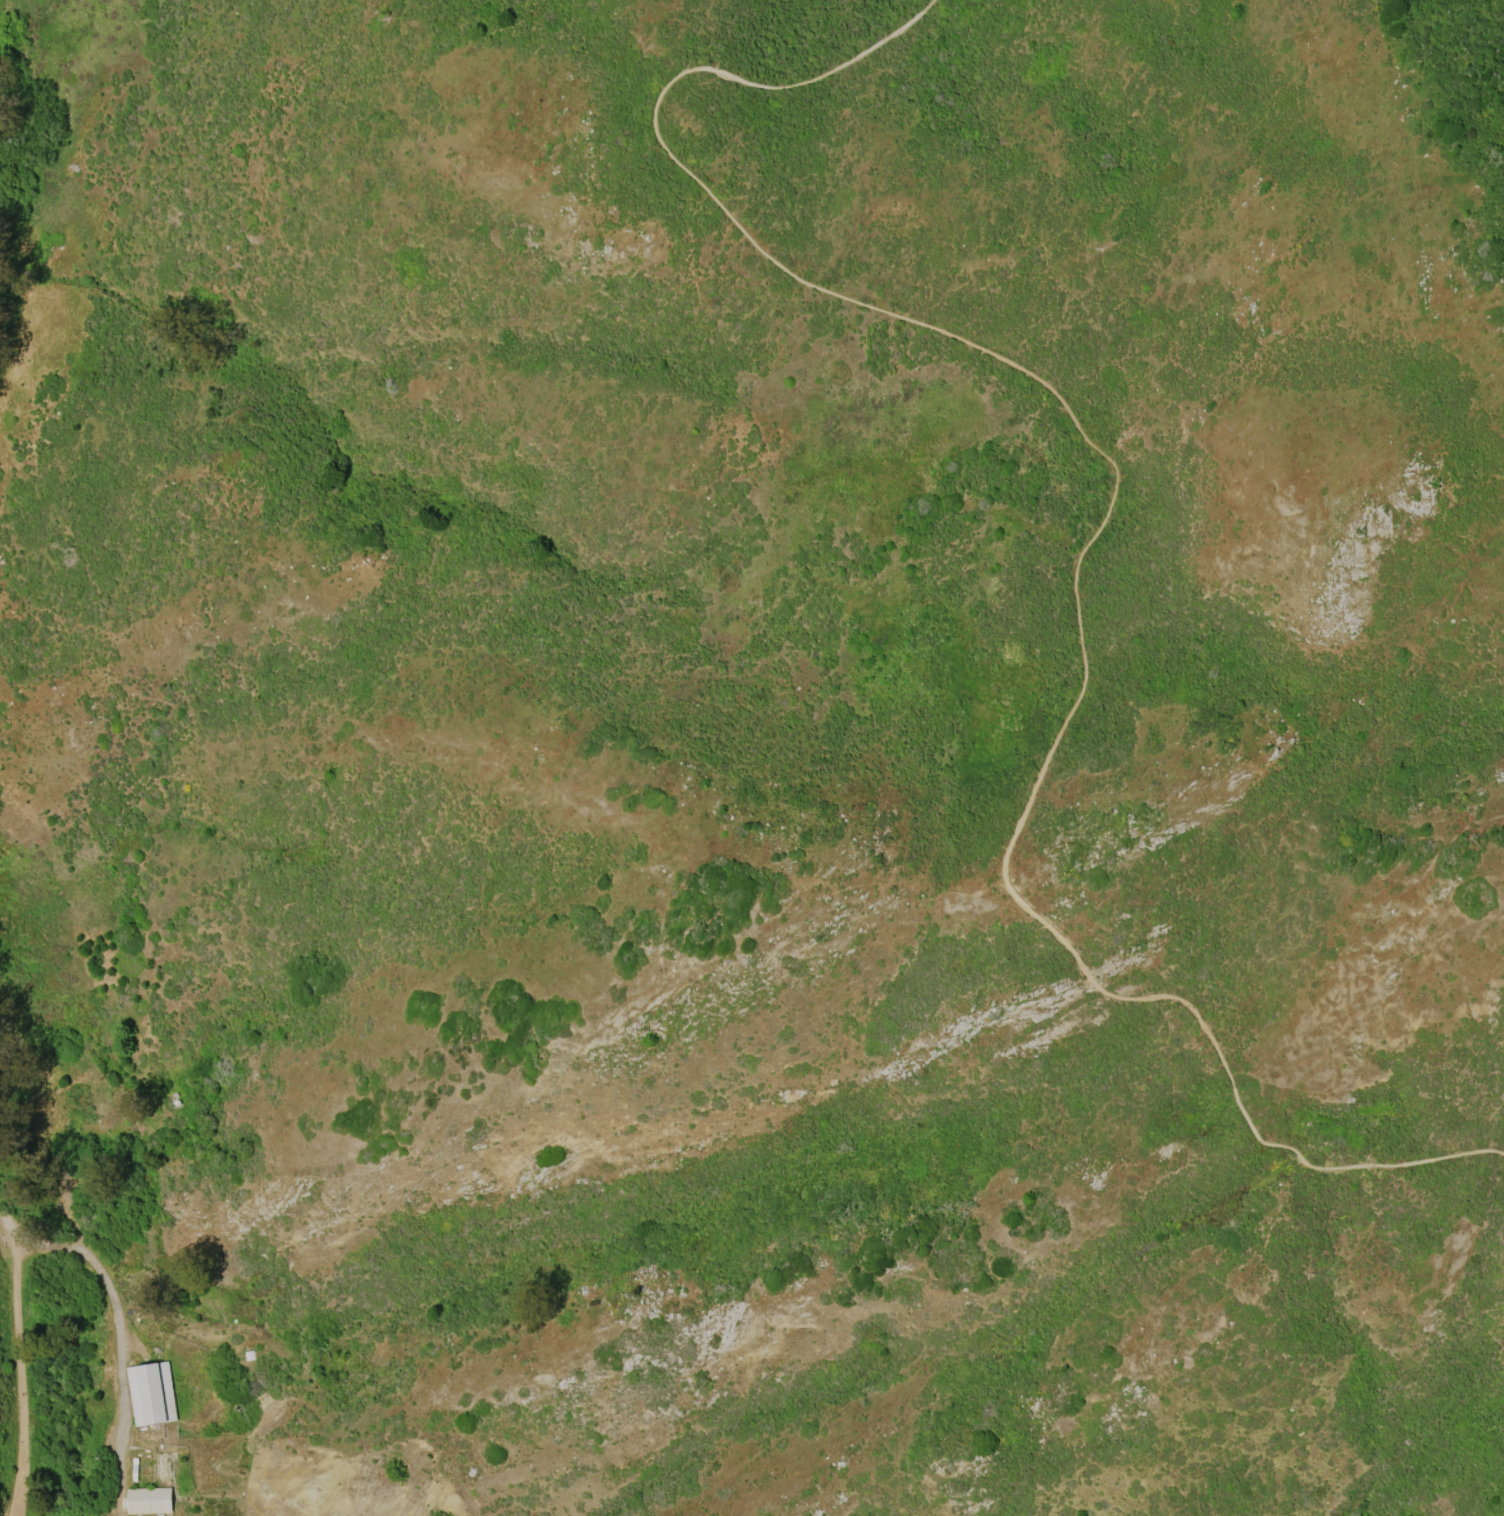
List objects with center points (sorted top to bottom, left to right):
road: (1096, 536)
road: (75, 1210)
road: (9, 1225)
road: (119, 1346)
building: (250, 1358)
road: (19, 1381)
building: (152, 1396)
building: (149, 1503)

